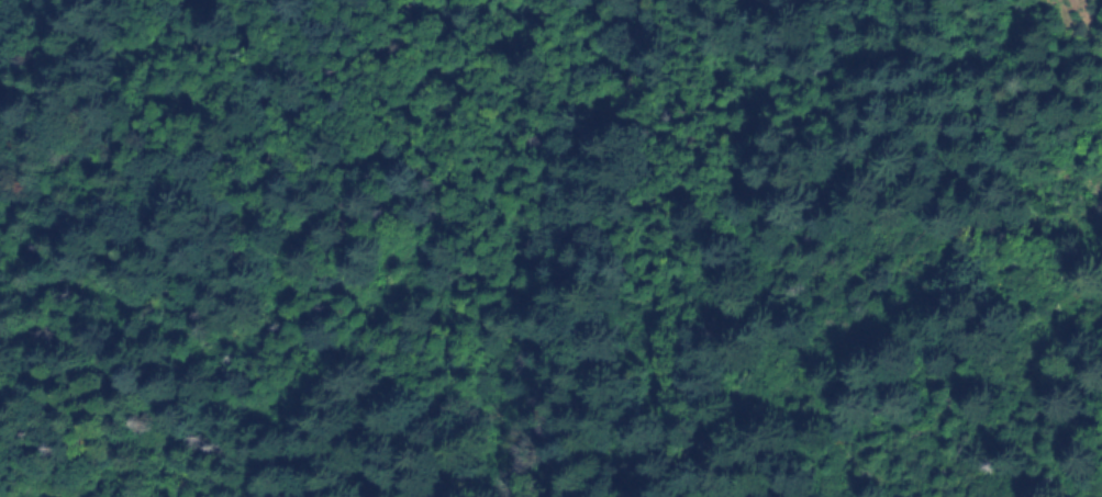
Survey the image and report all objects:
road: (570, 229)

